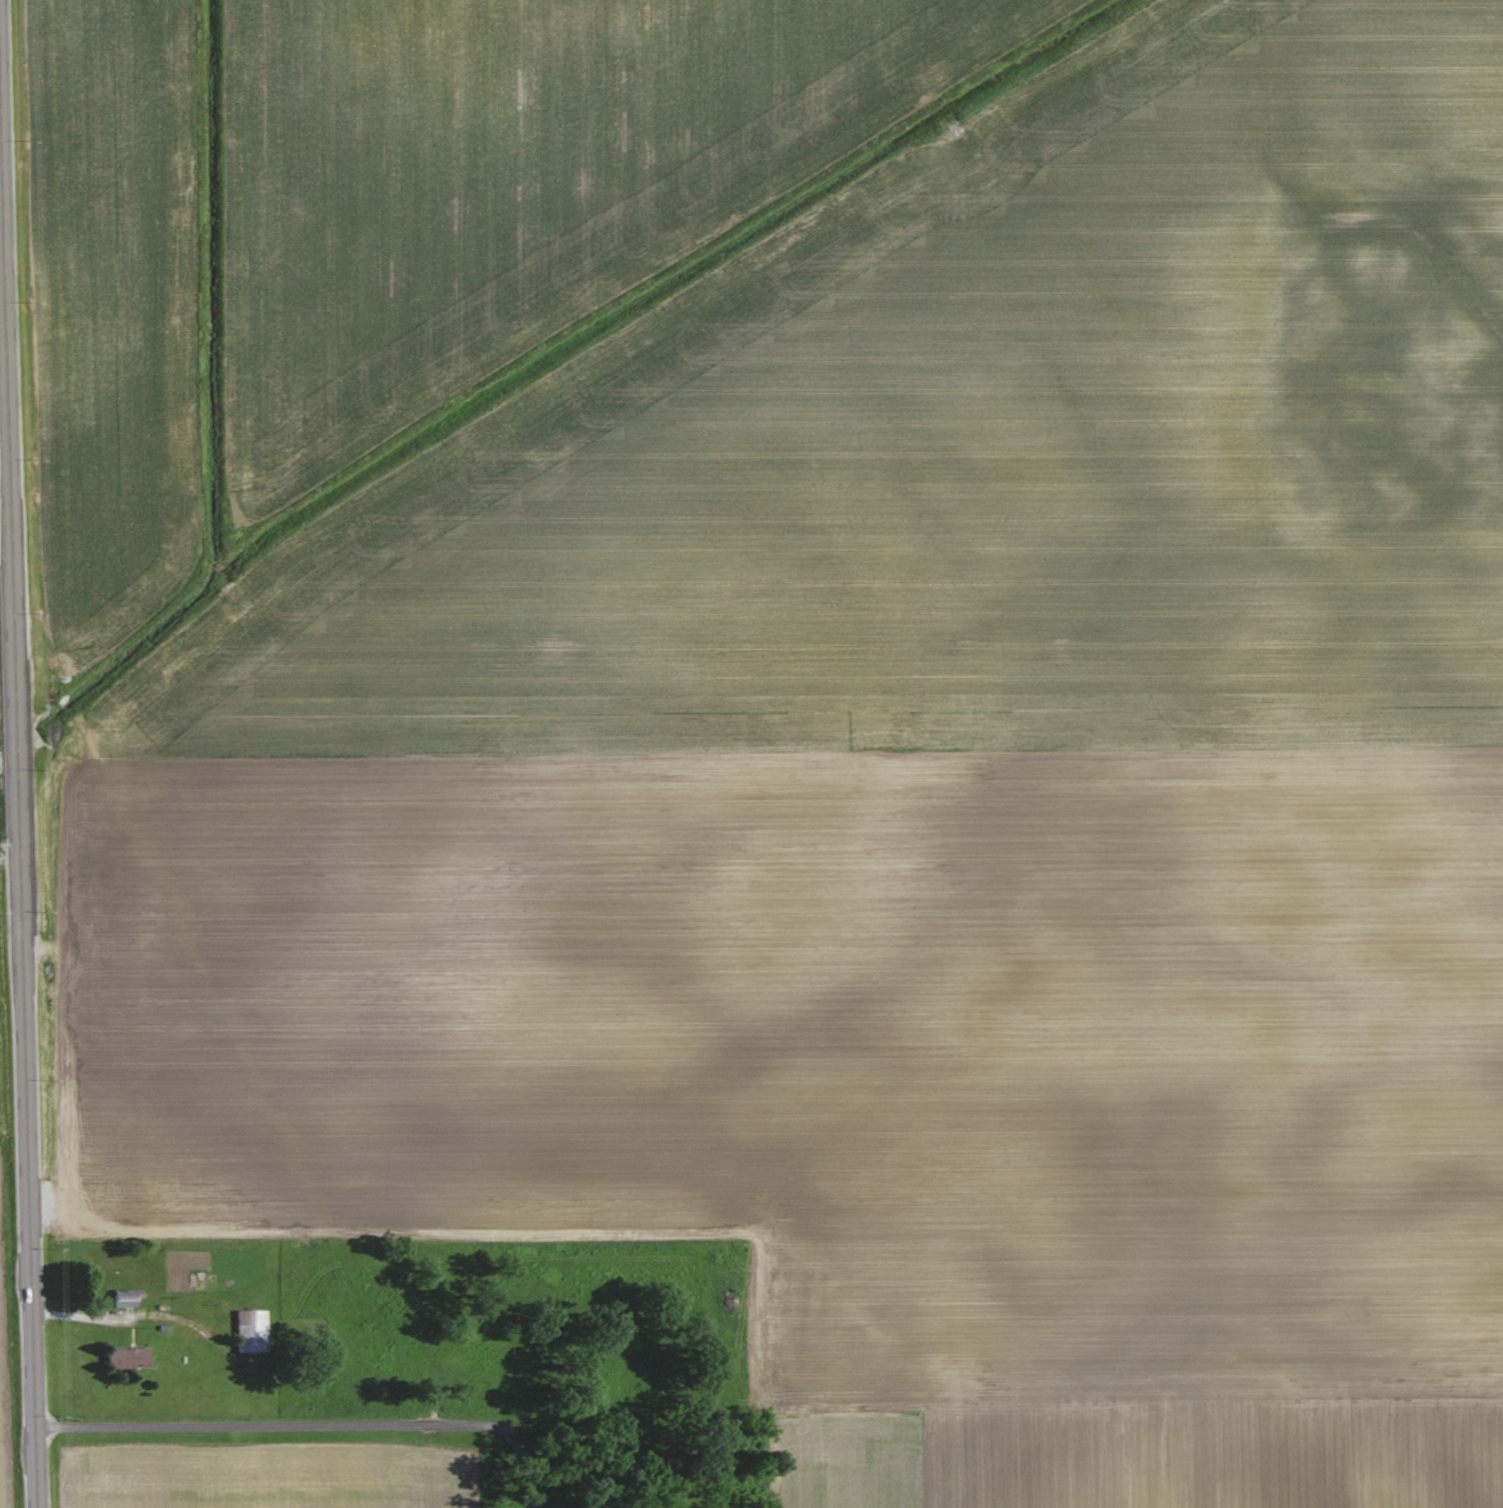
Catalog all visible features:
road: (18, 763)
building: (128, 1297)
building: (253, 1330)
building: (131, 1358)

